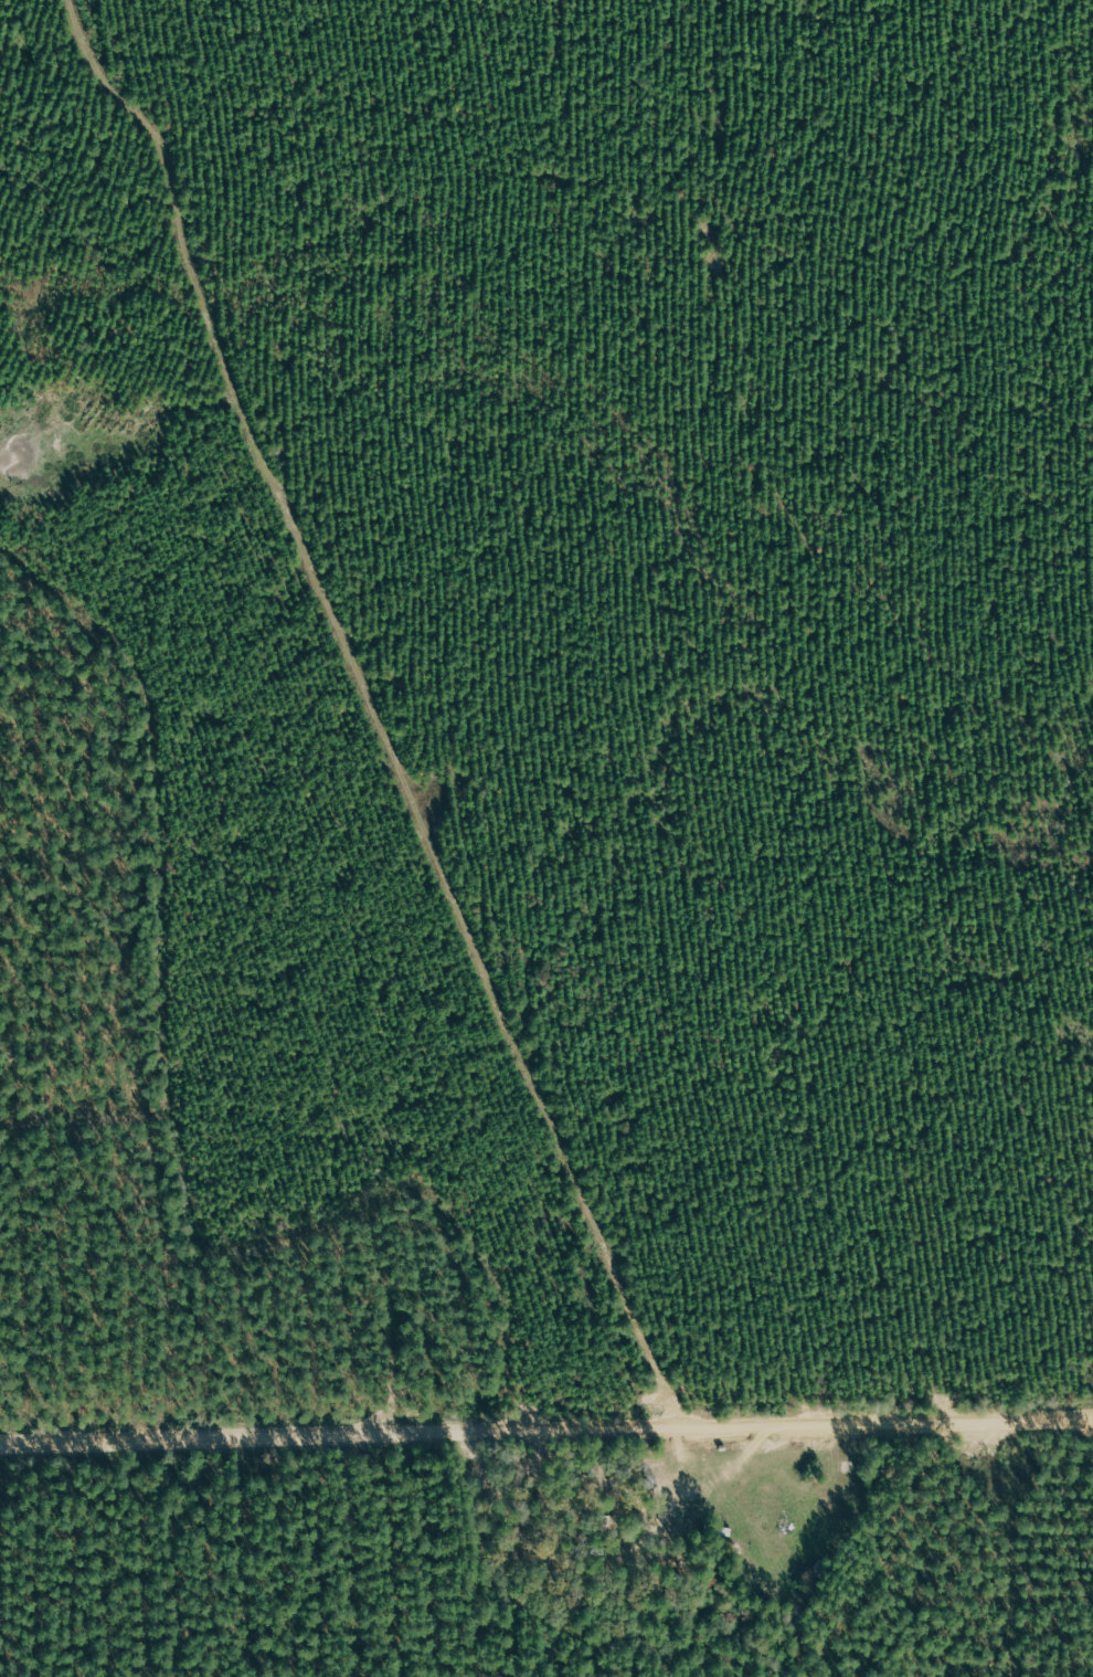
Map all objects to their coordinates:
road: (546, 1427)
building: (832, 1500)

